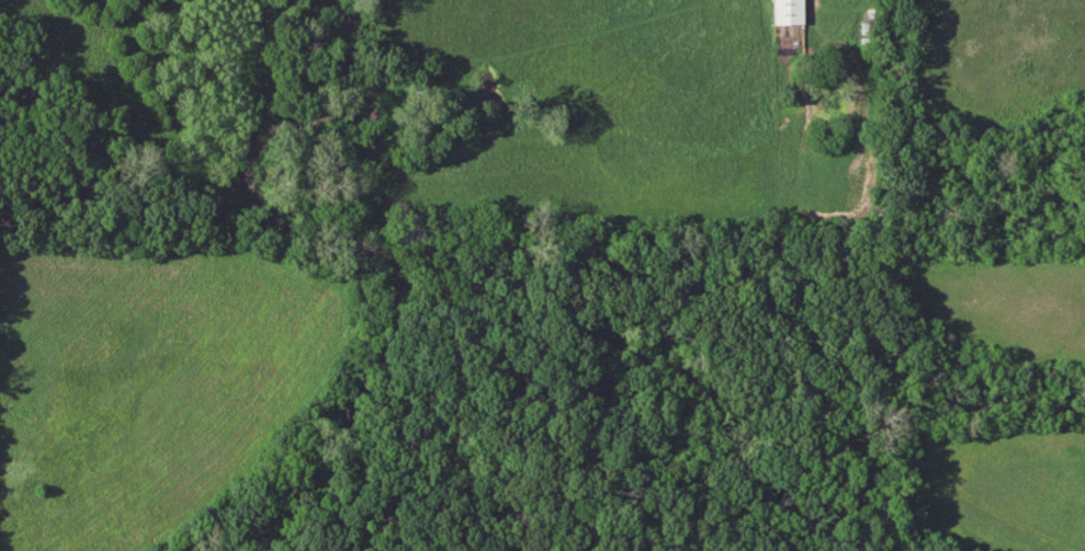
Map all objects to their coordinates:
building: (784, 12)

